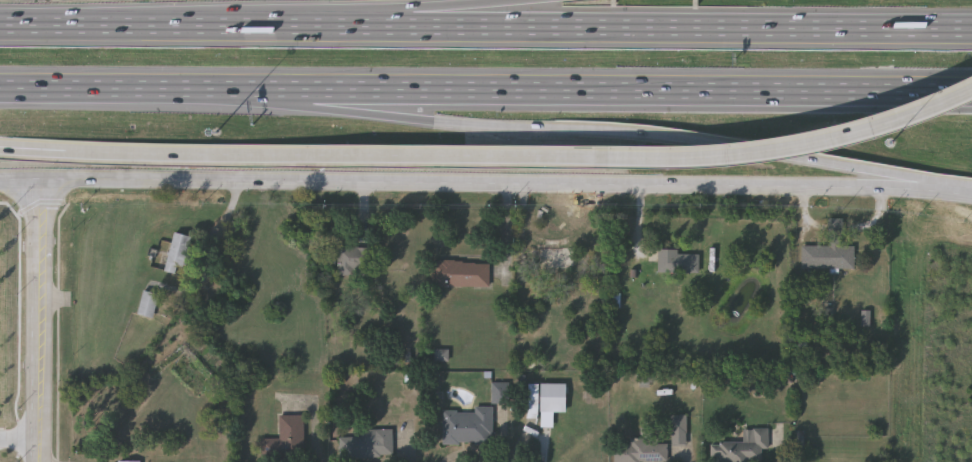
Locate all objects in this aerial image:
road: (508, 0)
road: (318, 13)
road: (486, 26)
road: (80, 89)
road: (567, 89)
road: (295, 105)
road: (645, 131)
road: (794, 146)
road: (303, 155)
road: (891, 175)
road: (461, 183)
road: (948, 187)
road: (505, 230)
road: (219, 234)
building: (181, 250)
building: (831, 250)
building: (559, 259)
building: (356, 260)
building: (680, 262)
building: (463, 273)
building: (151, 304)
road: (38, 322)
building: (442, 355)
building: (500, 392)
building: (556, 398)
building: (534, 401)
building: (469, 426)
building: (680, 429)
road: (19, 436)
building: (287, 440)
road: (548, 440)
building: (370, 444)
building: (747, 447)
building: (642, 451)
road: (773, 451)
road: (474, 452)
road: (689, 453)
building: (132, 461)

